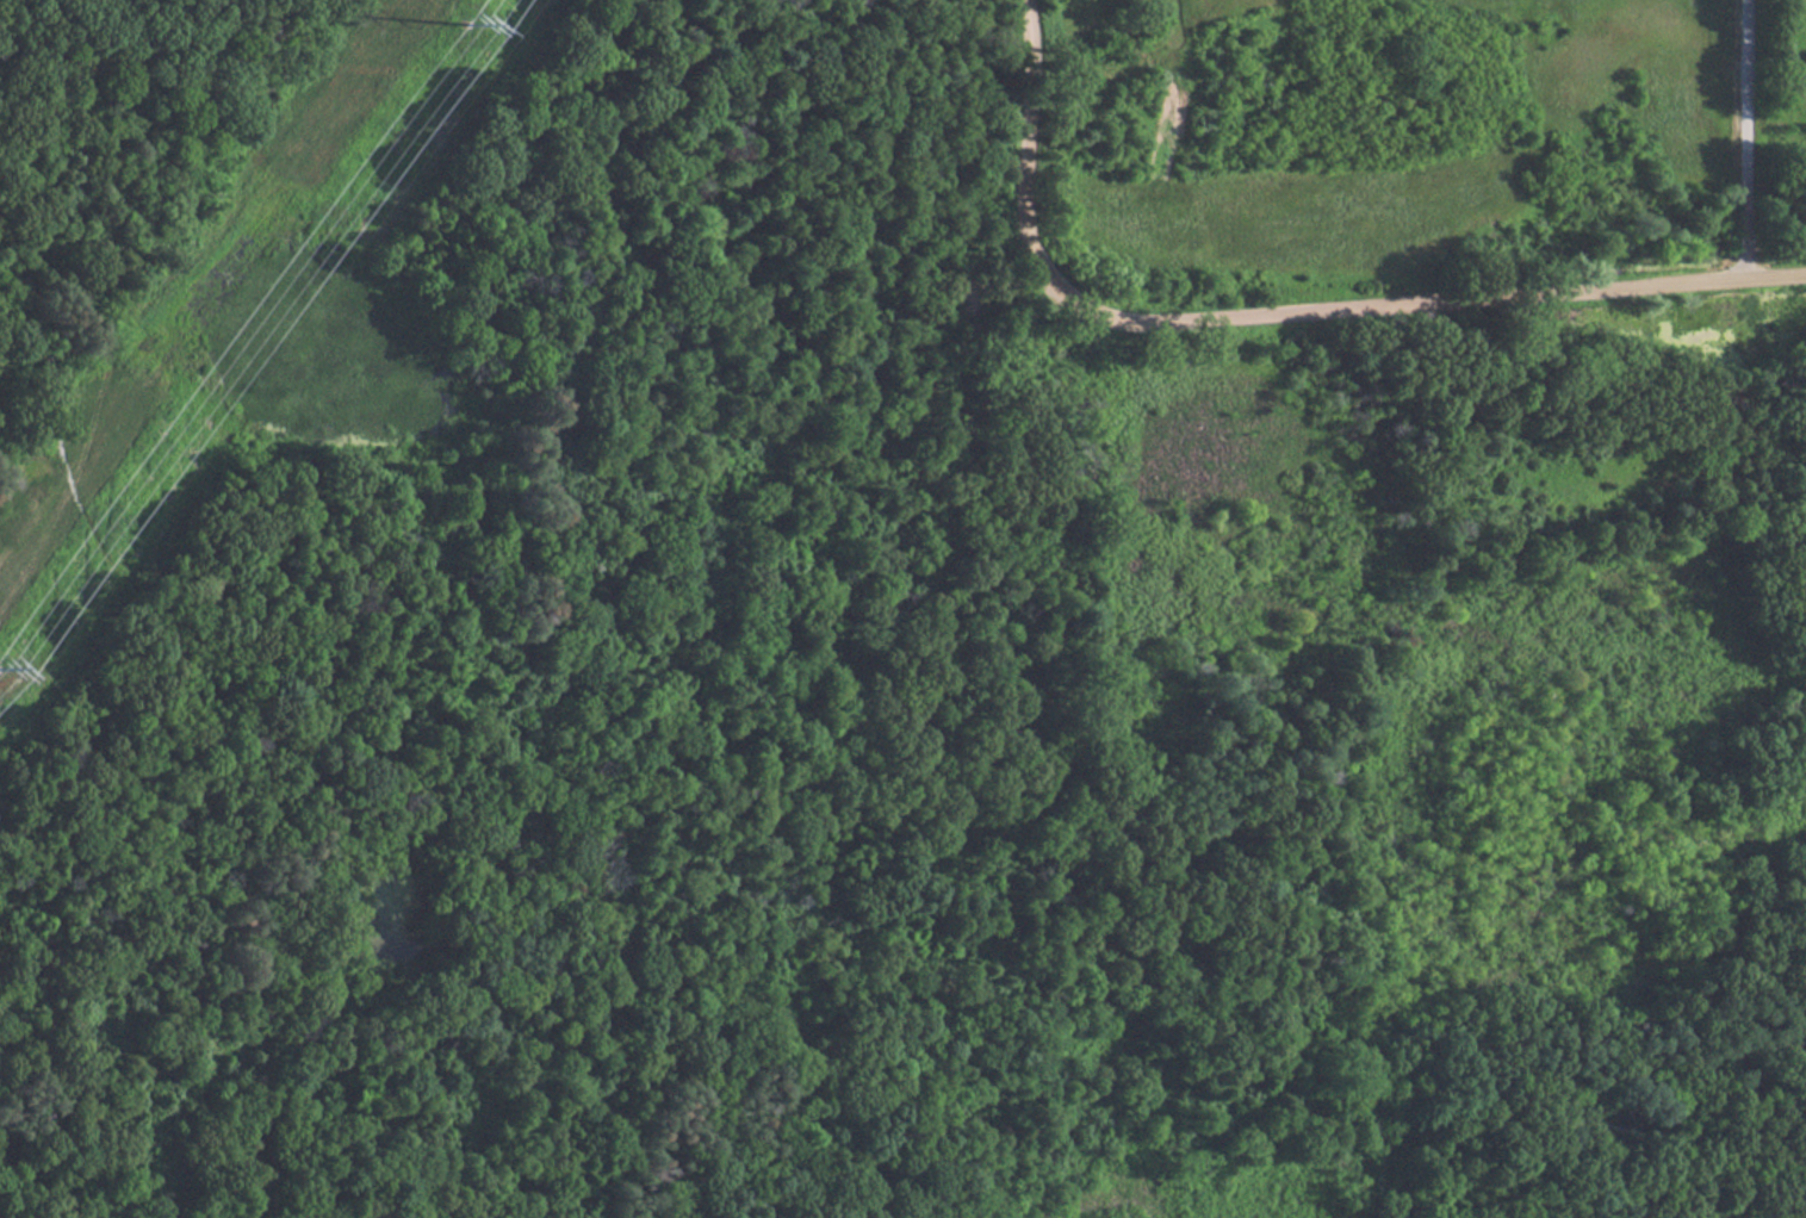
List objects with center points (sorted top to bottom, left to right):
power tower: (473, 23)
road: (26, 37)
road: (1746, 138)
road: (1279, 313)
road: (529, 642)
park: (820, 666)
power tower: (1, 676)
road: (319, 713)
road: (50, 1007)

